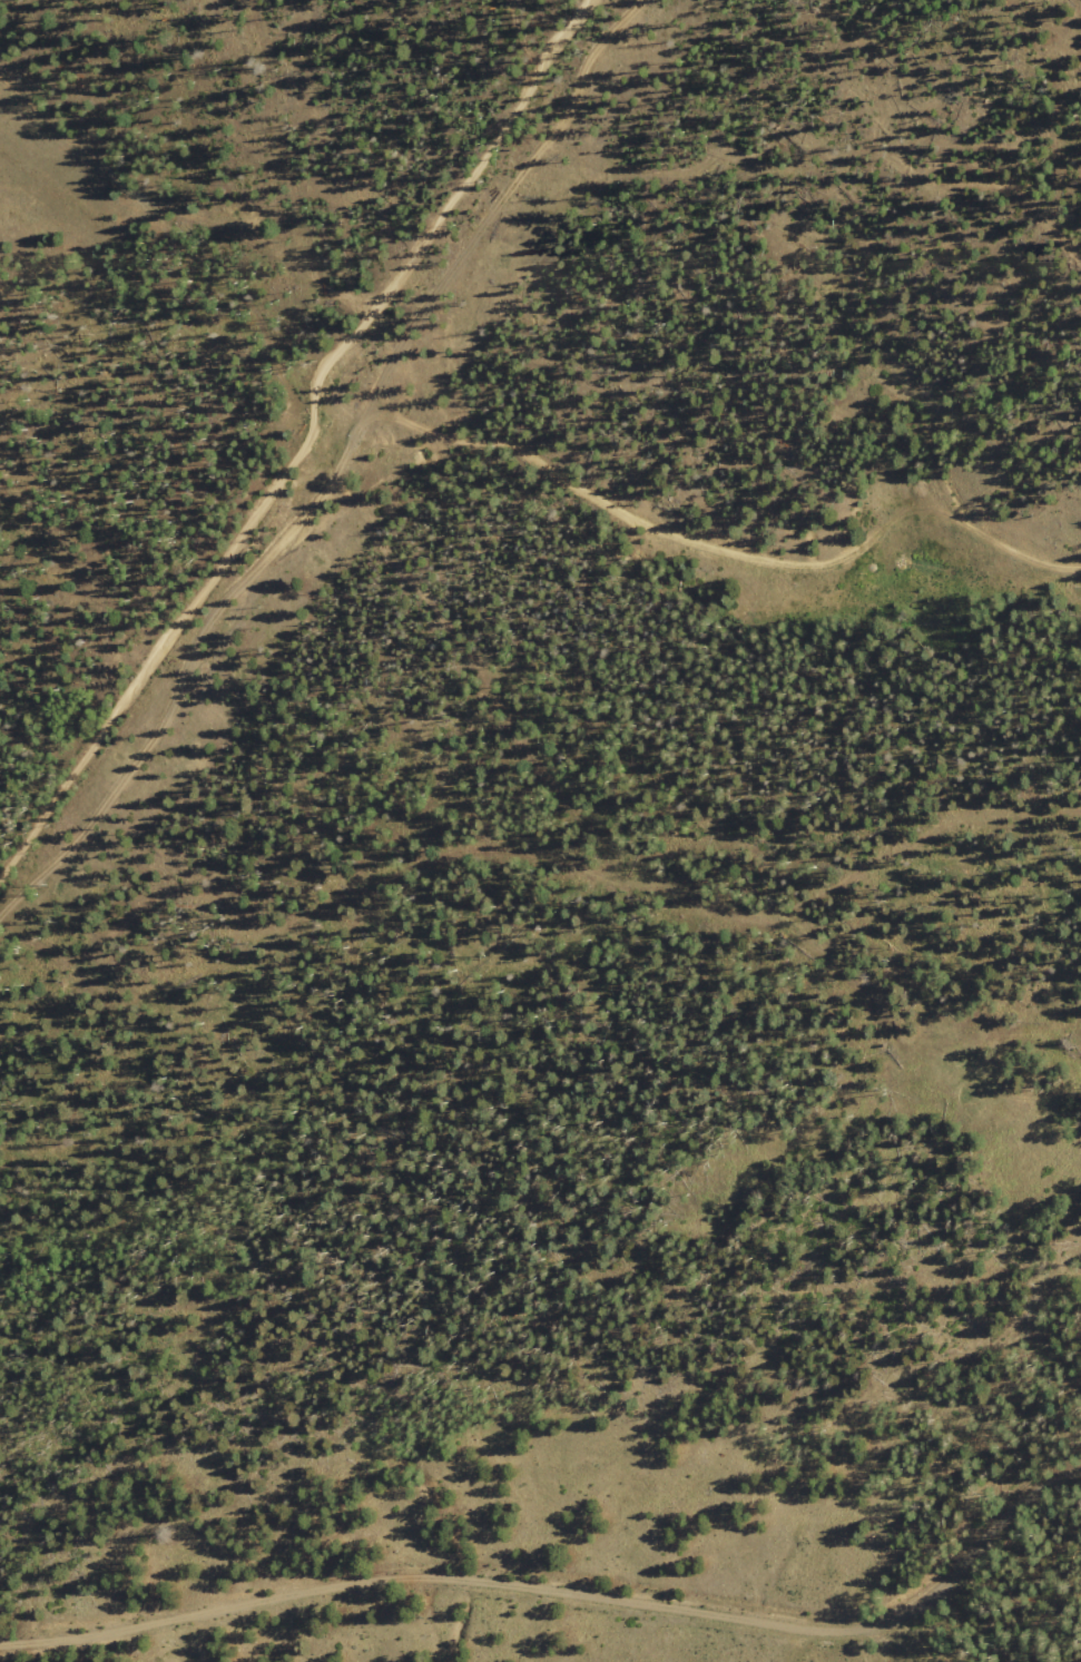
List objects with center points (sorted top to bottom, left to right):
road: (301, 450)
road: (702, 531)
road: (546, 1593)

